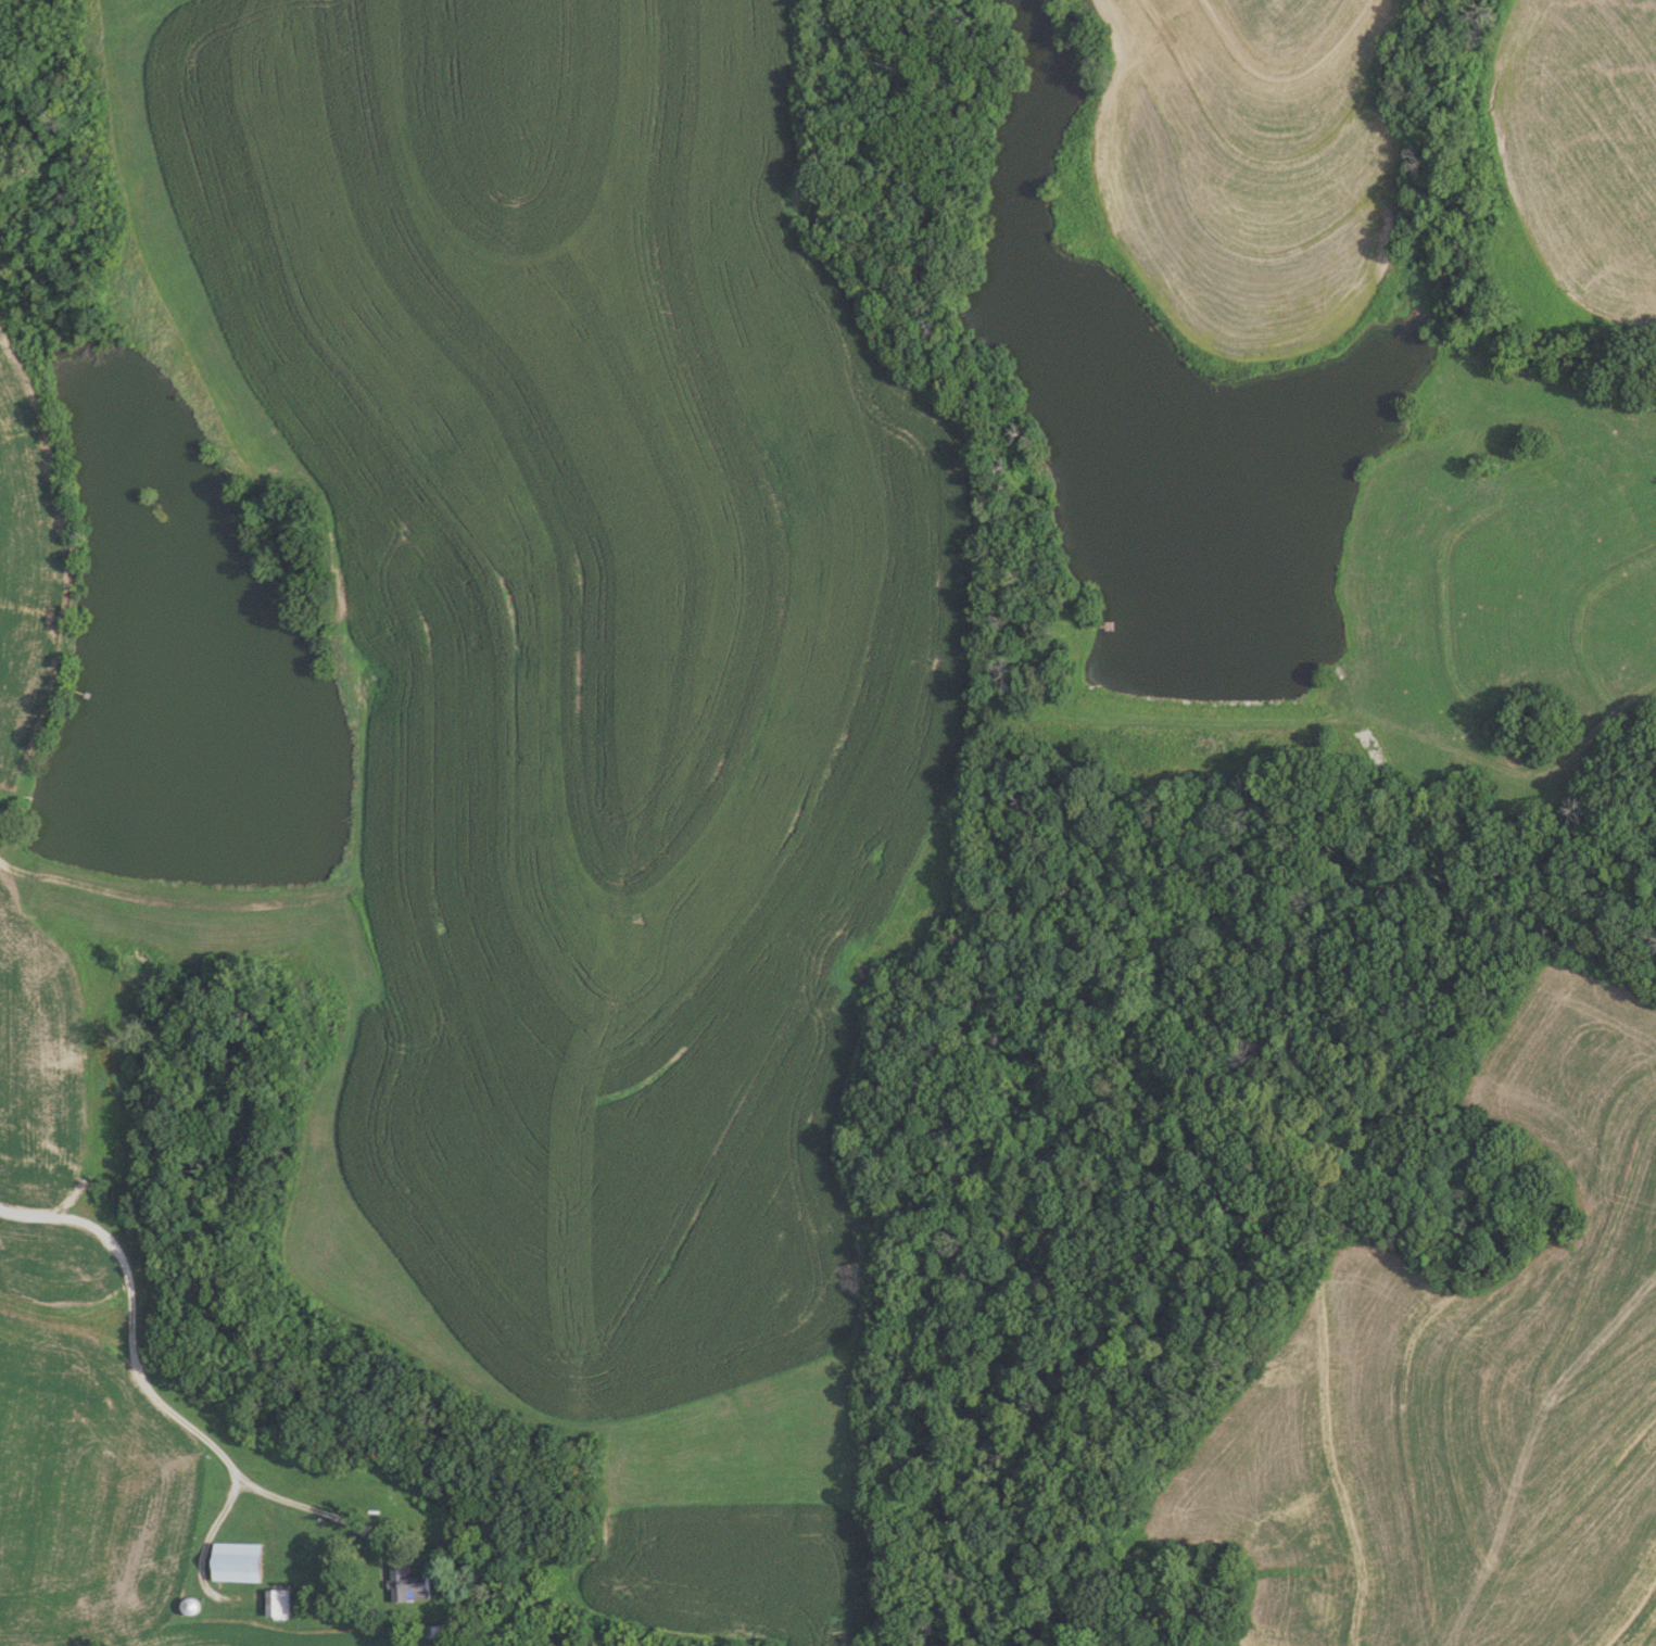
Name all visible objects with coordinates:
road: (143, 1390)
road: (199, 1554)
building: (238, 1562)
building: (409, 1585)
building: (277, 1603)

